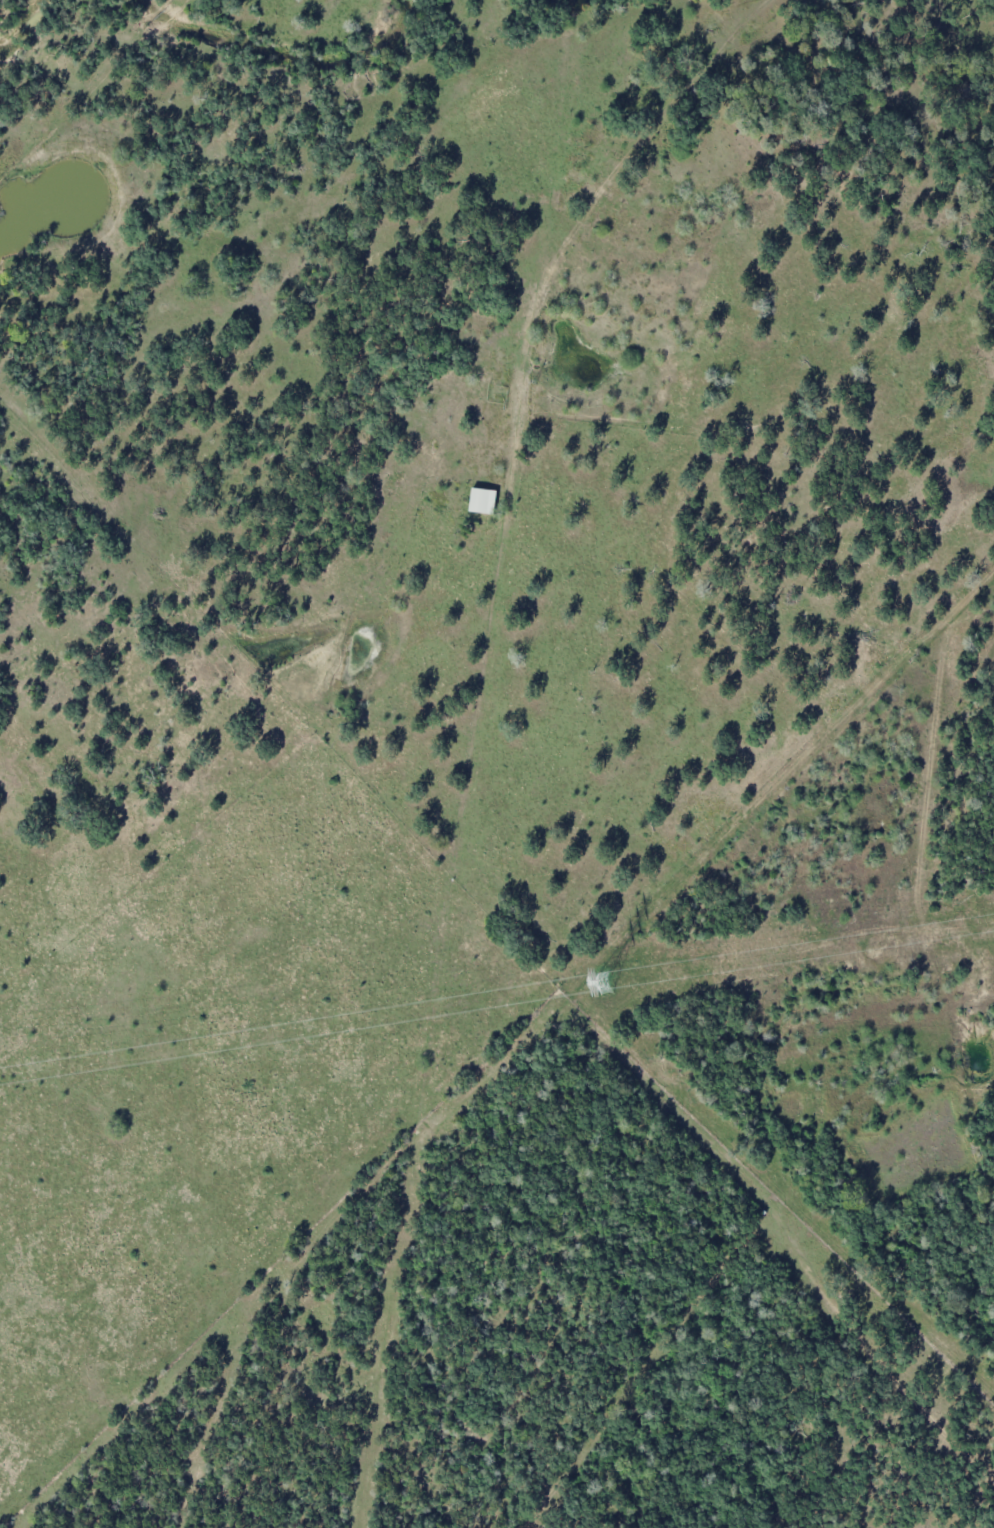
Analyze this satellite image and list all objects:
building: (485, 500)
power tower: (606, 981)

